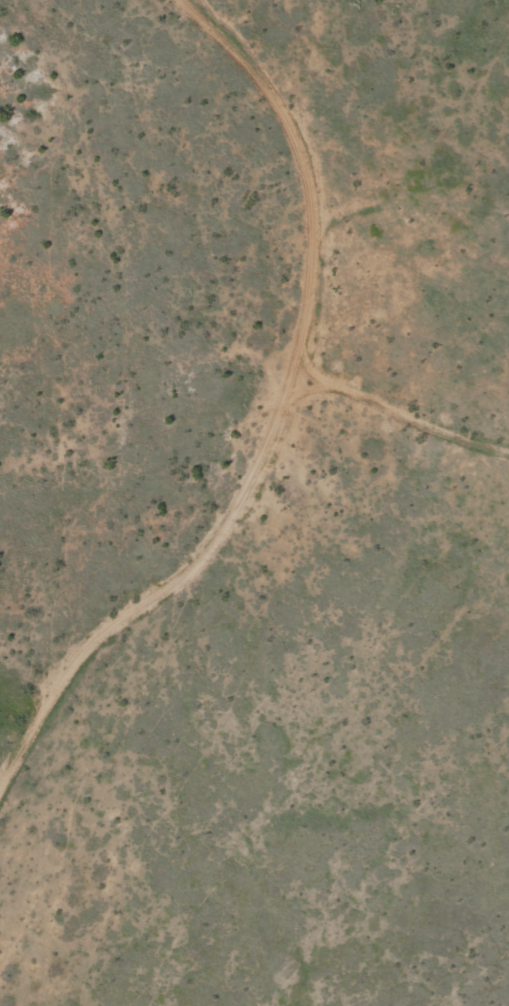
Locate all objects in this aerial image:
road: (292, 447)

